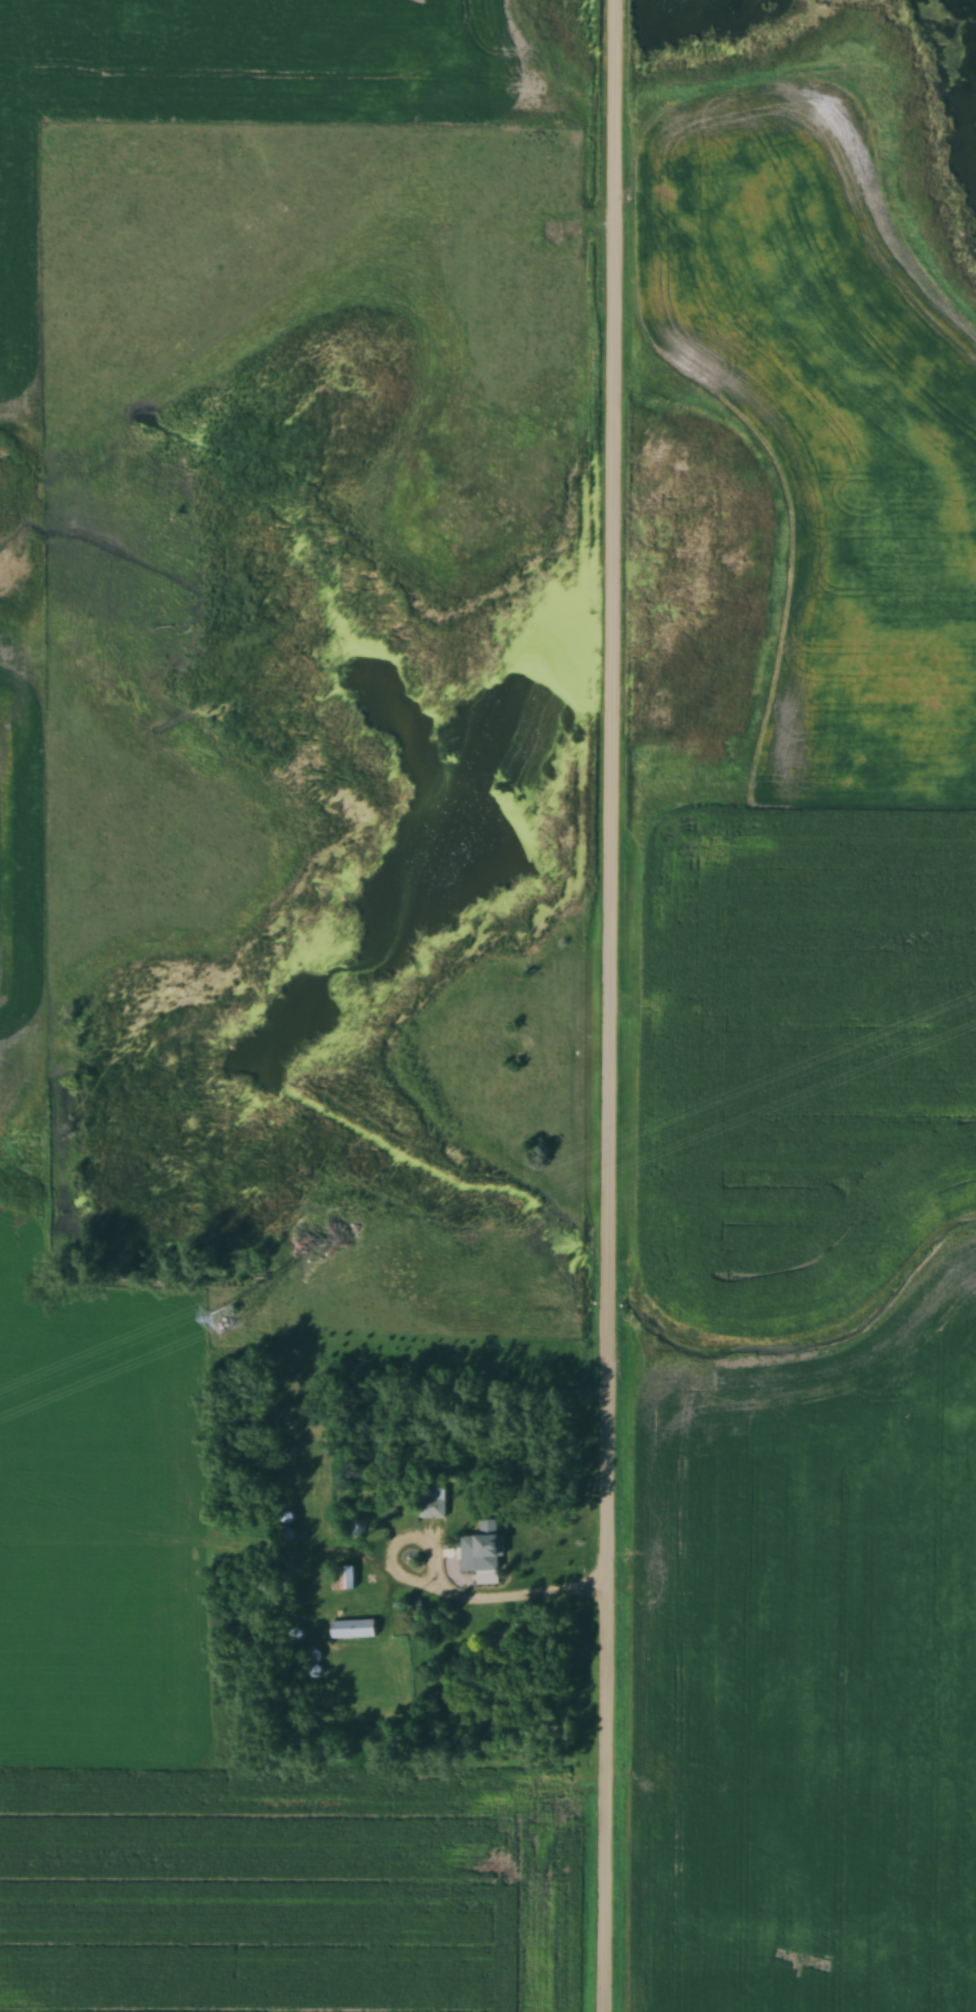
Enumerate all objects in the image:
road: (612, 1005)
power tower: (228, 1318)
building: (488, 1546)
building: (343, 1578)
building: (353, 1629)

